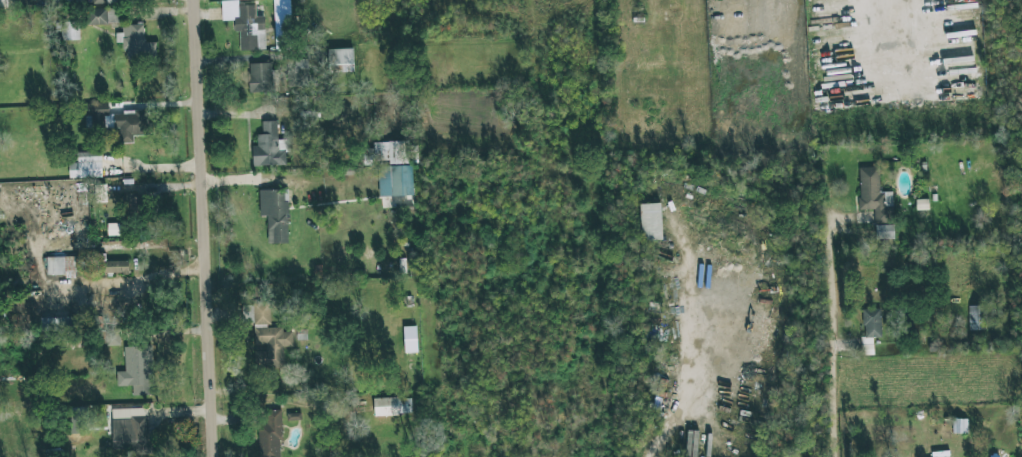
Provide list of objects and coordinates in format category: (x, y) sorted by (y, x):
building: (103, 1)
building: (2, 3)
building: (103, 16)
building: (282, 22)
road: (896, 23)
building: (245, 24)
building: (68, 30)
building: (136, 42)
building: (340, 60)
building: (299, 74)
building: (260, 77)
building: (117, 121)
building: (269, 147)
building: (390, 152)
building: (86, 165)
building: (394, 181)
building: (874, 195)
building: (275, 215)
building: (650, 222)
road: (204, 228)
building: (884, 231)
building: (61, 266)
building: (116, 267)
building: (976, 318)
building: (57, 324)
building: (870, 329)
road: (831, 333)
building: (267, 336)
building: (112, 337)
building: (410, 339)
building: (137, 370)
building: (392, 406)
building: (130, 431)
building: (270, 433)
building: (691, 443)

